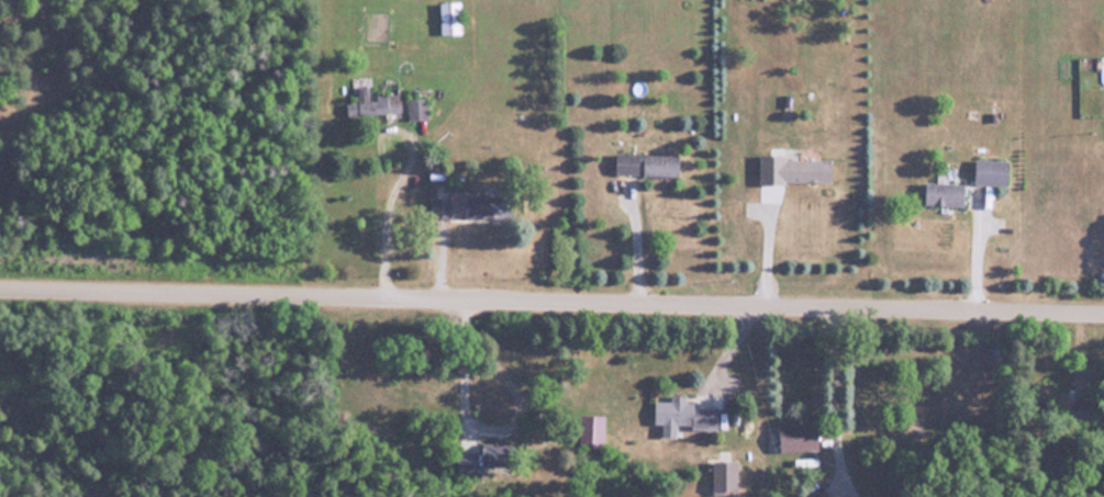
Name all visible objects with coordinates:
building: (451, 16)
building: (371, 100)
building: (647, 163)
building: (809, 169)
building: (992, 170)
building: (946, 192)
building: (483, 204)
road: (379, 215)
road: (978, 255)
road: (551, 303)
building: (685, 415)
building: (593, 431)
building: (799, 437)
building: (723, 482)

